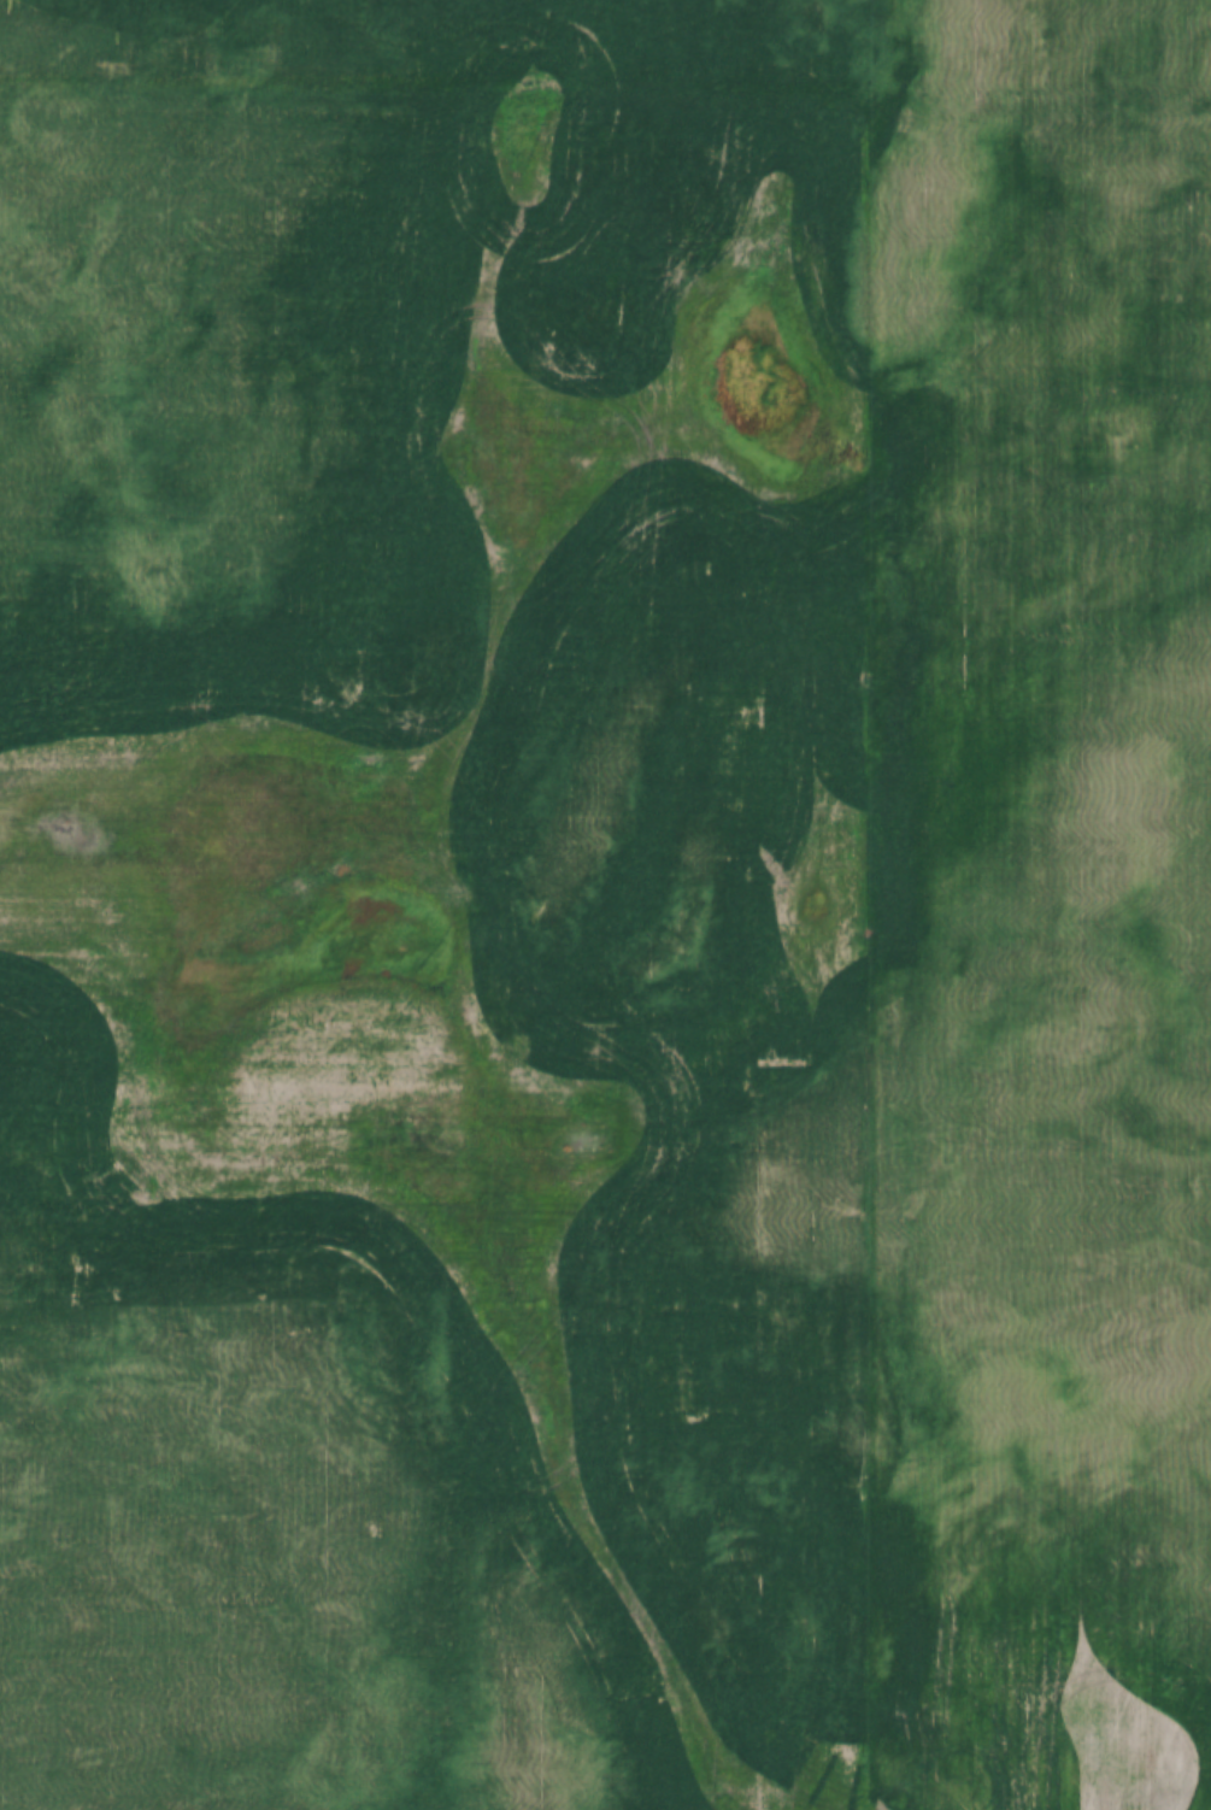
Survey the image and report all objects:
road: (1063, 96)

